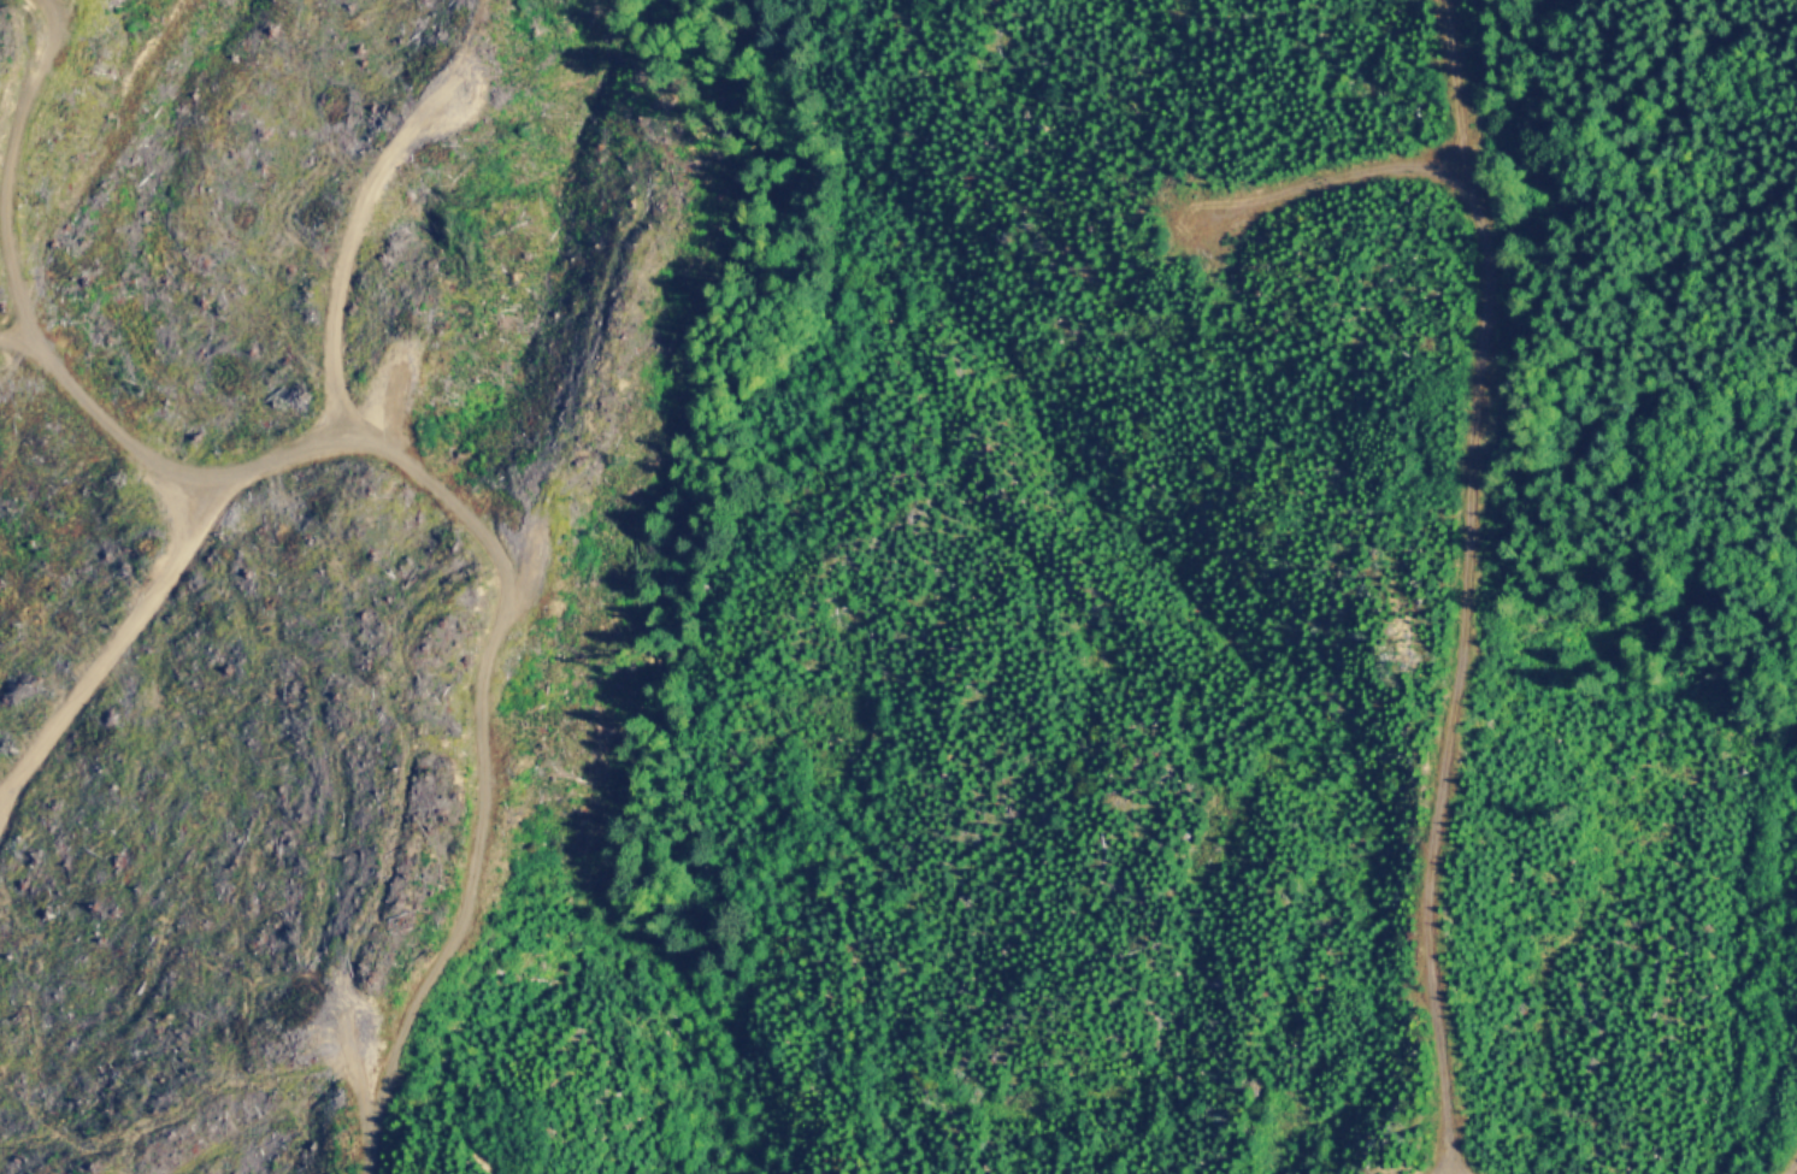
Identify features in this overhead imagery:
road: (1479, 586)
road: (417, 1003)
road: (1787, 1164)

